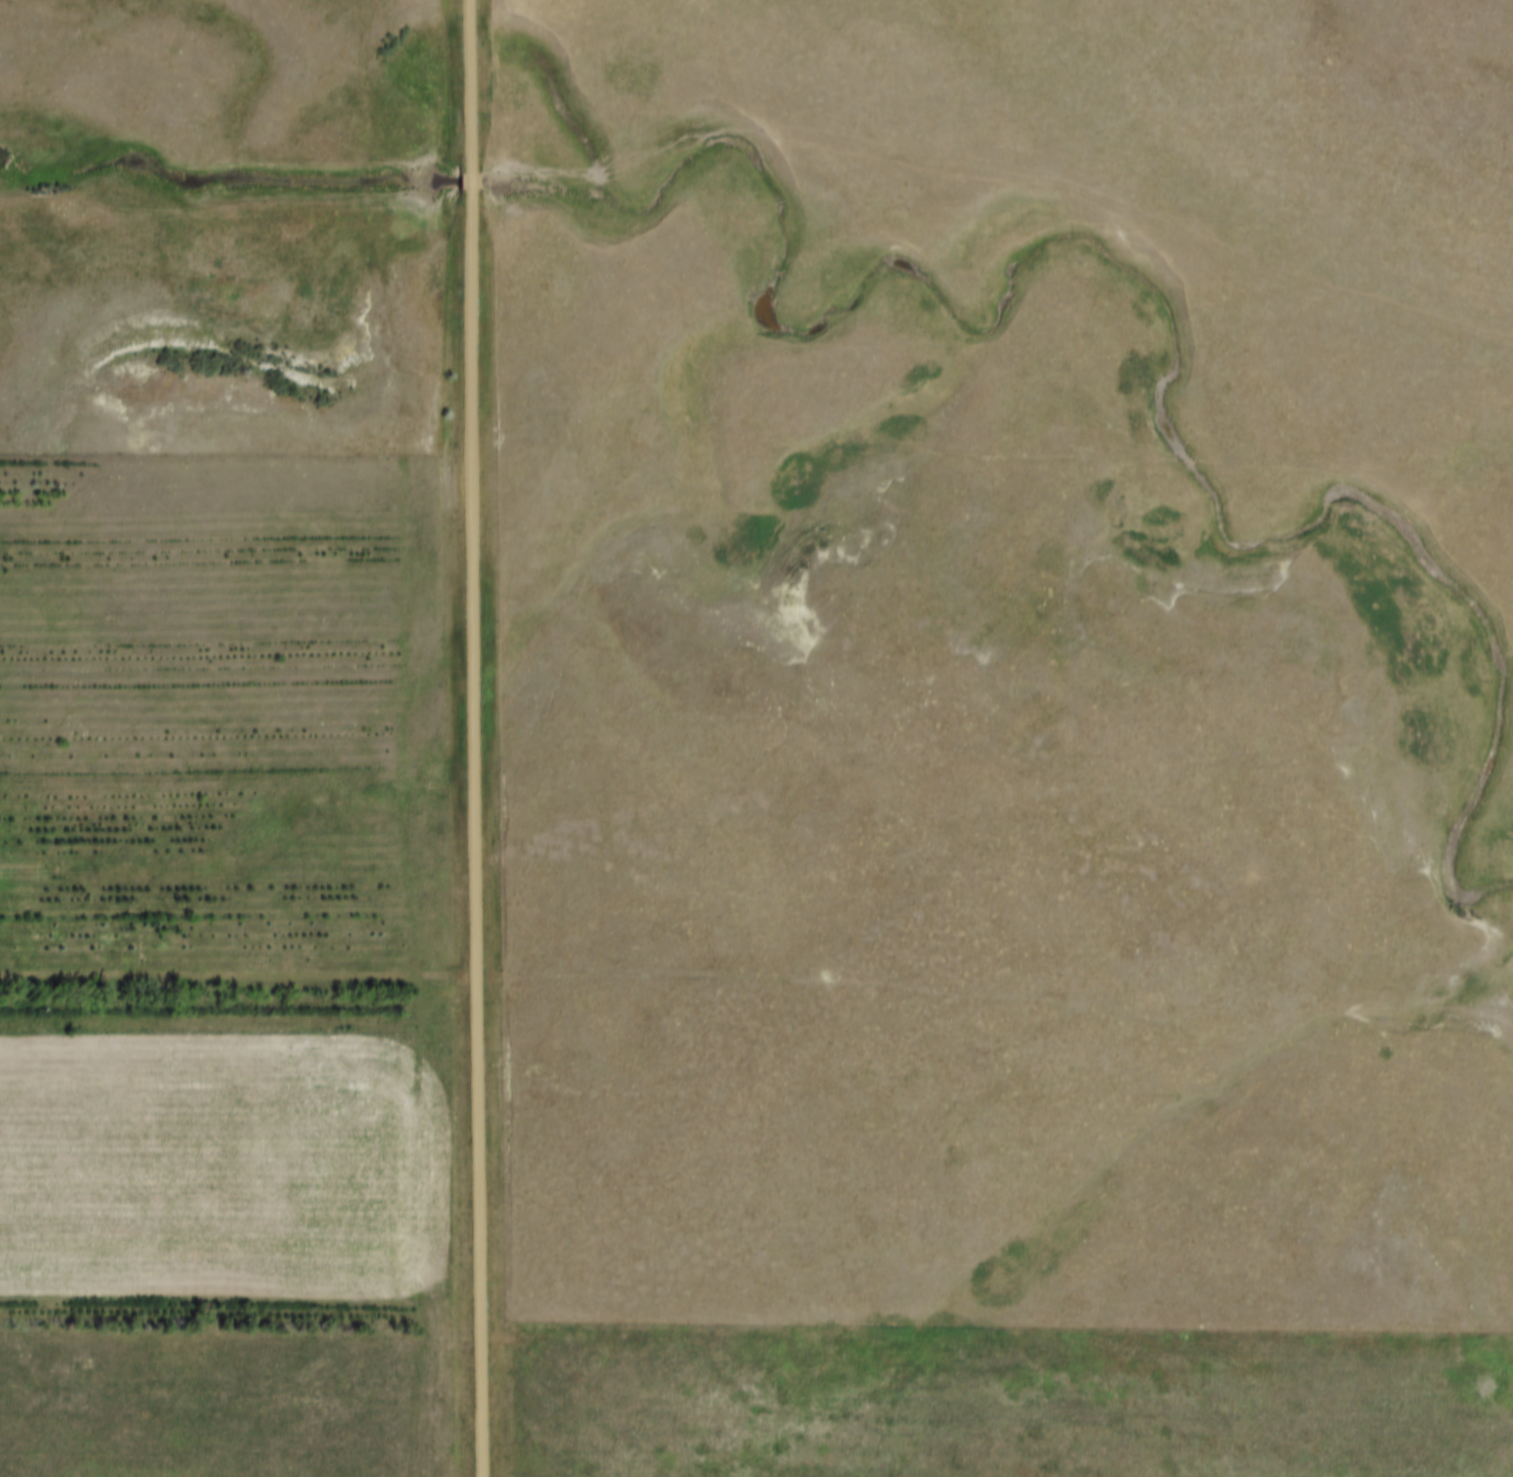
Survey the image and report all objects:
road: (474, 86)
road: (475, 180)
road: (477, 832)

